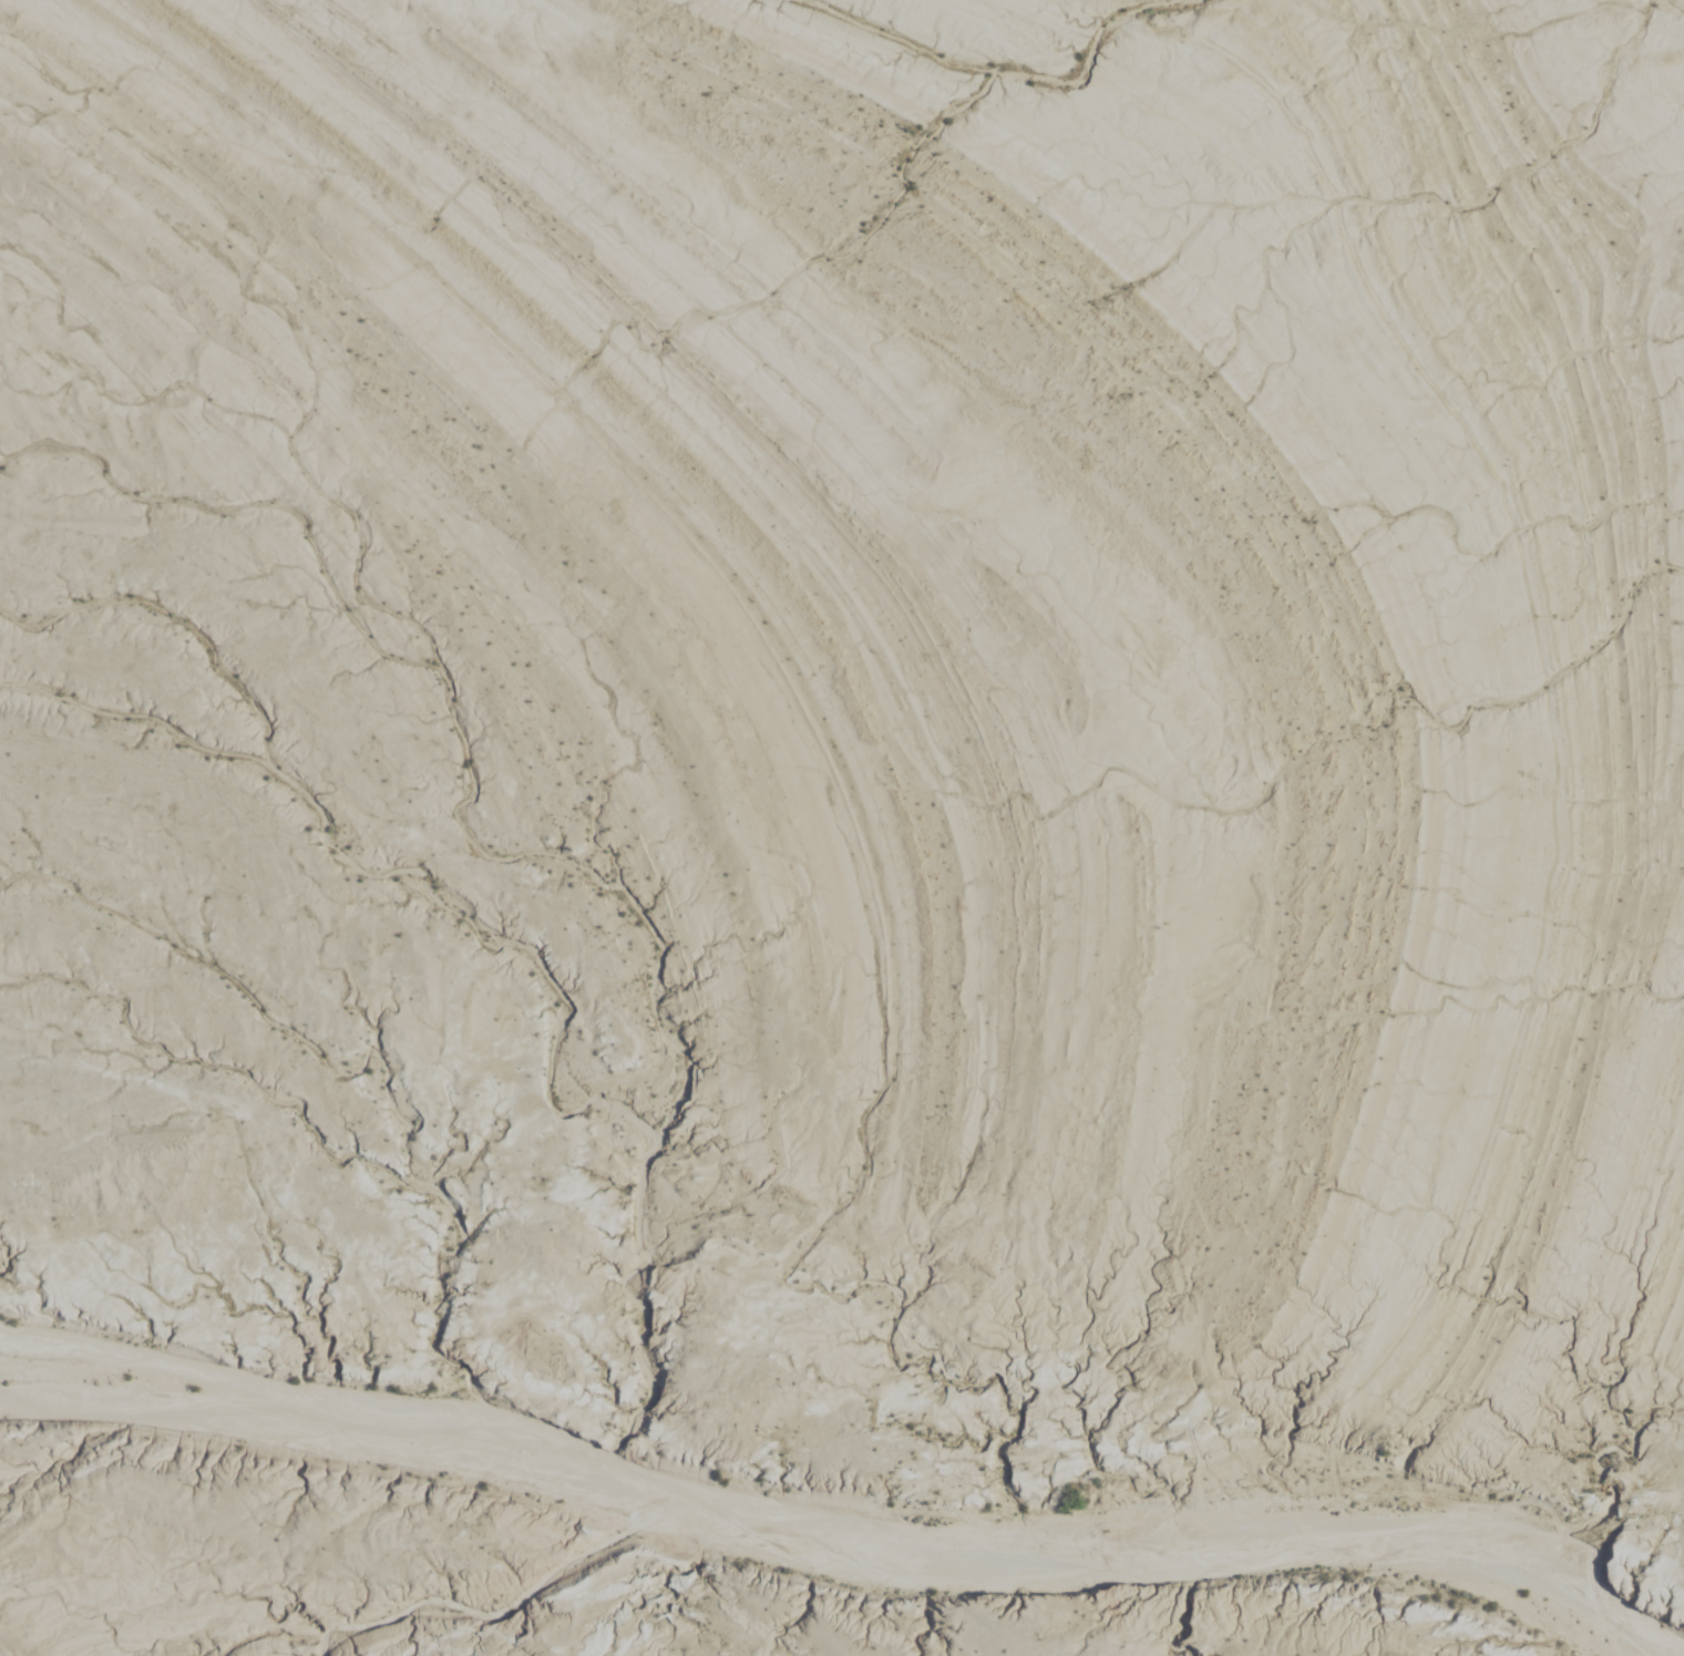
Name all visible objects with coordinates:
road: (842, 1528)

